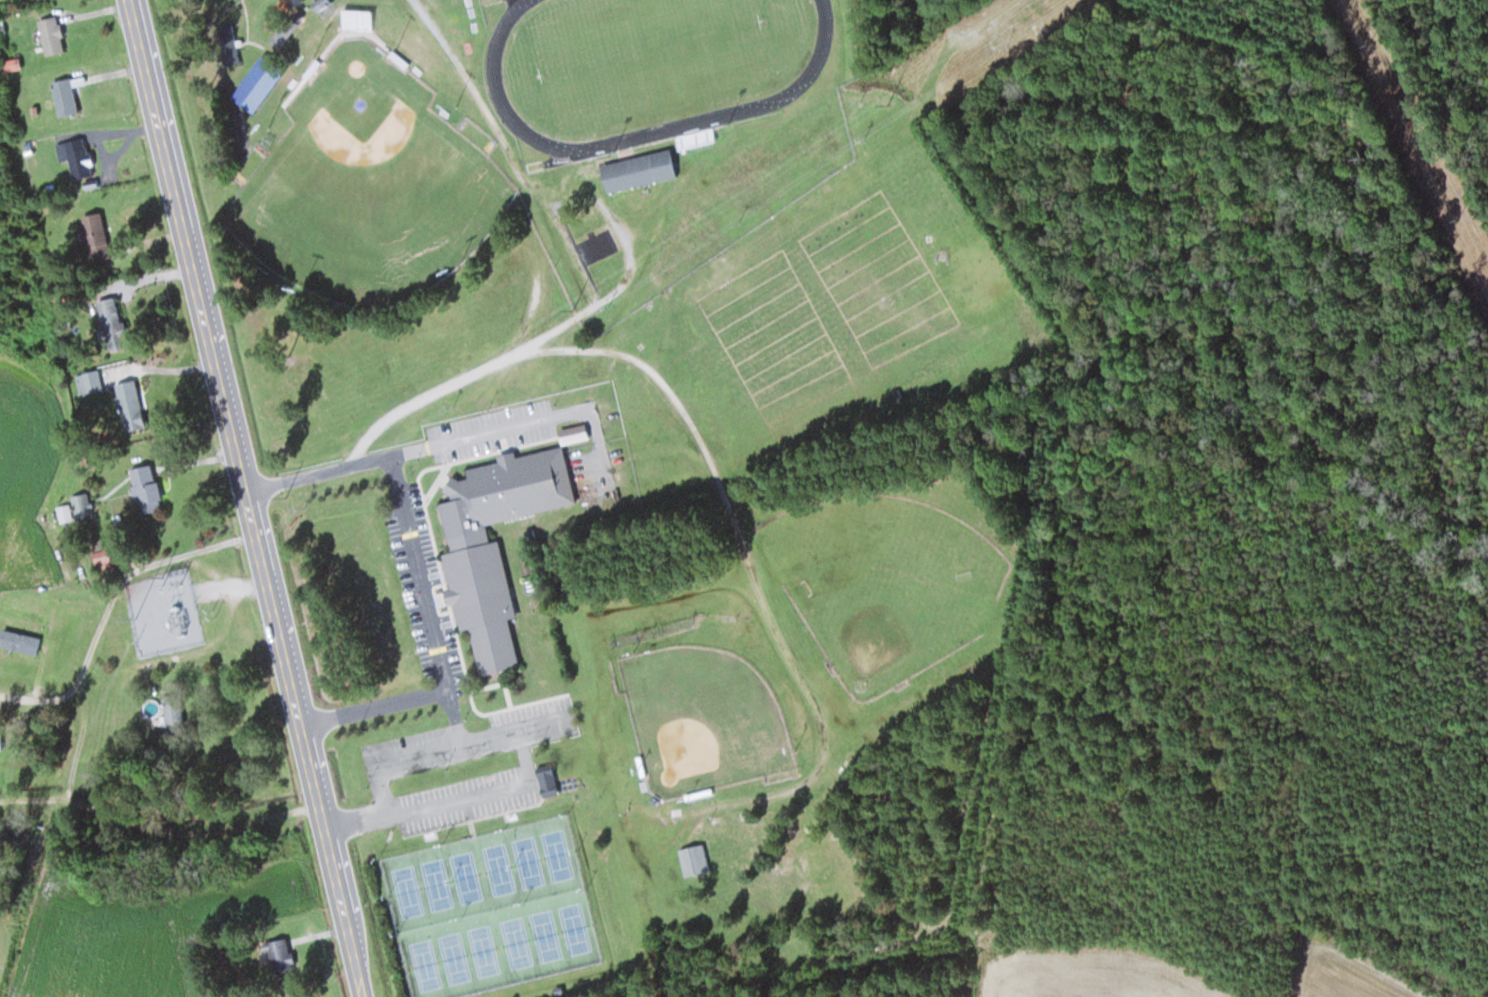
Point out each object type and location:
building: (285, 30)
building: (49, 34)
building: (231, 43)
park: (647, 58)
track: (647, 62)
building: (261, 81)
track: (795, 83)
building: (62, 96)
building: (73, 157)
building: (643, 170)
park: (369, 186)
road: (562, 193)
building: (91, 226)
building: (606, 266)
park: (822, 311)
building: (109, 317)
building: (87, 381)
building: (125, 397)
road: (457, 437)
road: (722, 488)
building: (143, 489)
road: (245, 498)
building: (62, 512)
building: (493, 542)
park: (886, 579)
building: (17, 641)
building: (170, 711)
park: (705, 717)
building: (545, 780)
building: (697, 860)
park: (490, 909)
building: (277, 955)

